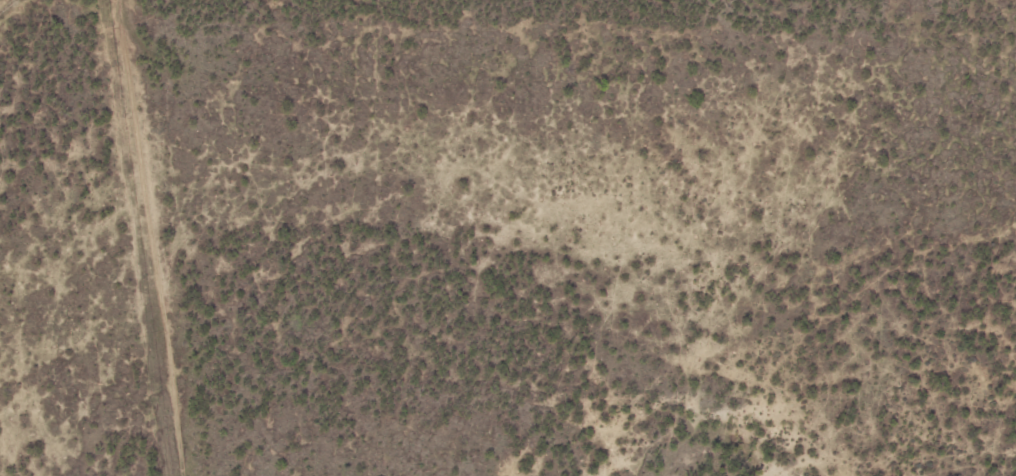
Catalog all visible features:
road: (58, 26)
road: (158, 238)

